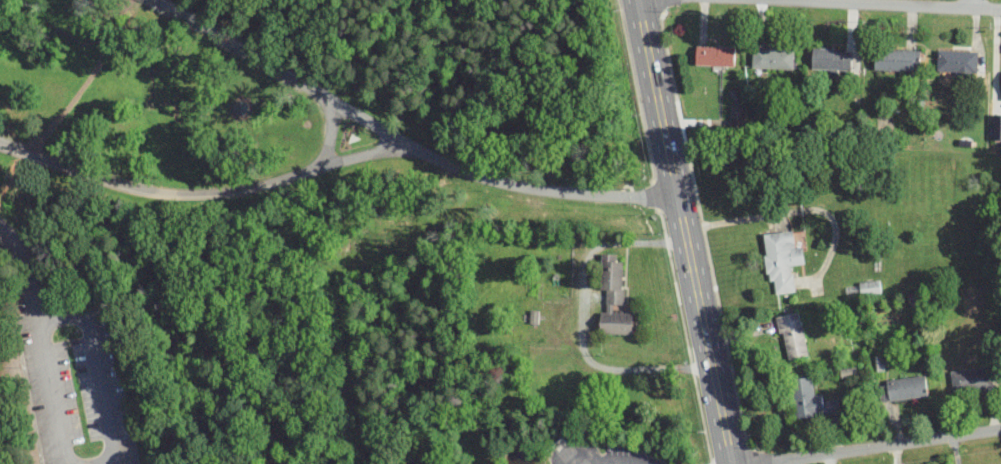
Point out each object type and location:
road: (882, 5)
road: (973, 5)
building: (715, 55)
building: (768, 57)
building: (834, 59)
building: (898, 59)
building: (958, 61)
road: (279, 71)
building: (1000, 84)
building: (740, 114)
building: (995, 127)
road: (325, 141)
road: (536, 190)
road: (201, 198)
park: (289, 212)
road: (792, 213)
road: (684, 232)
road: (17, 247)
building: (783, 258)
building: (870, 287)
building: (615, 297)
road: (33, 300)
road: (66, 315)
building: (533, 316)
building: (793, 335)
building: (846, 372)
building: (972, 379)
parking lot: (75, 385)
building: (903, 388)
road: (25, 391)
park: (13, 398)
building: (812, 400)
stadium: (1, 421)
road: (885, 448)
road: (613, 462)

